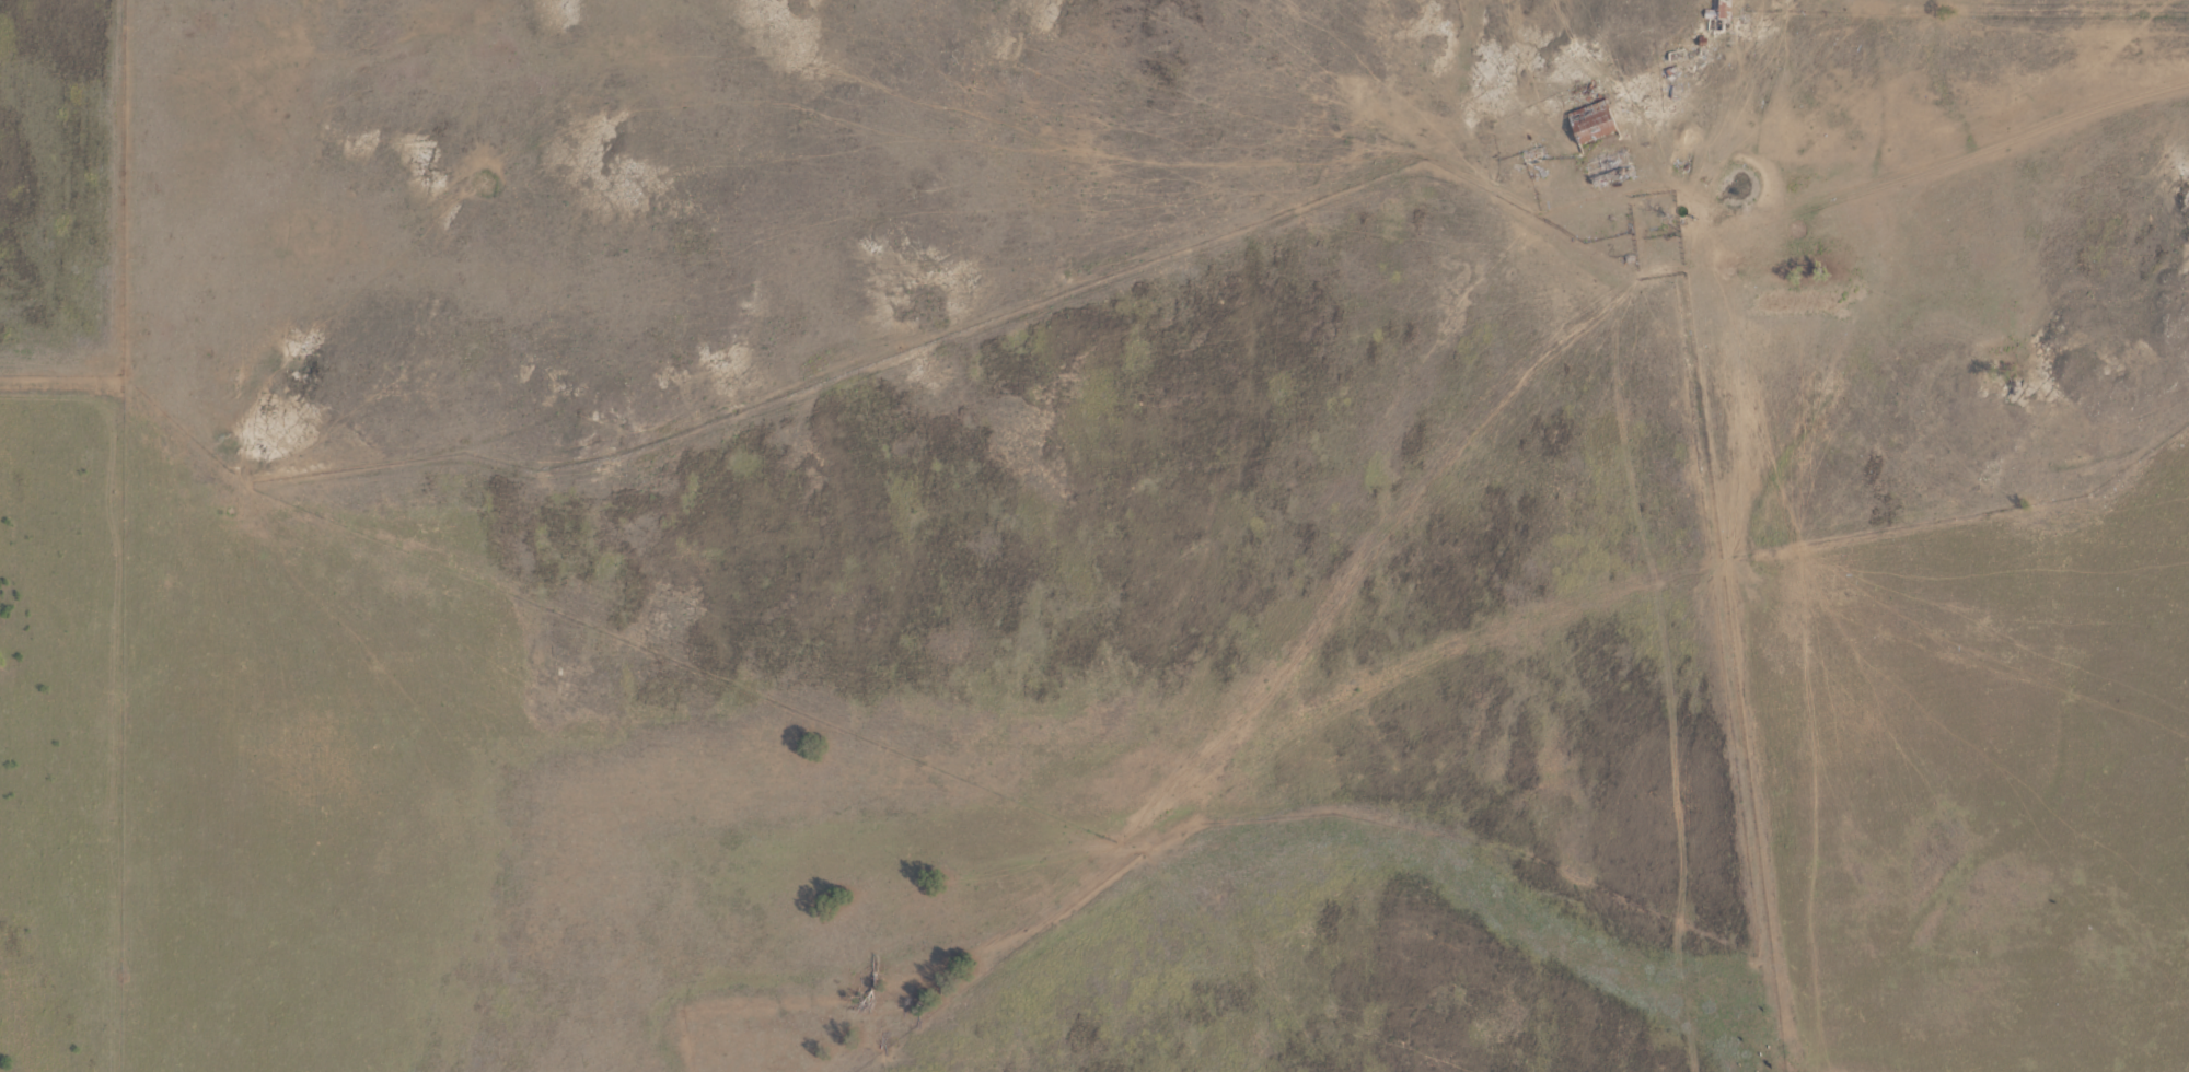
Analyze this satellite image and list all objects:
building: (1723, 9)
building: (1591, 124)
road: (1169, 630)

